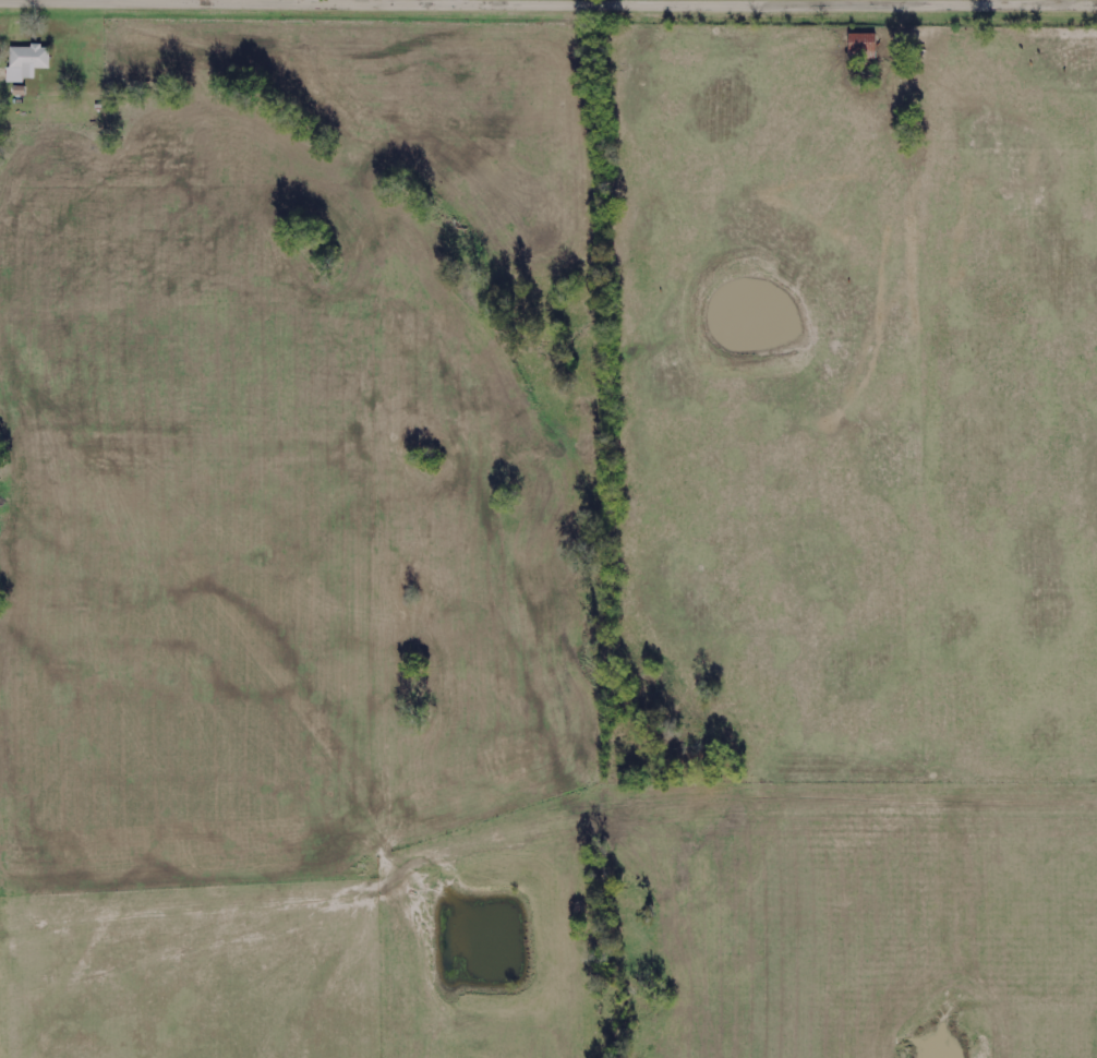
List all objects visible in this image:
road: (548, 5)
building: (26, 62)

